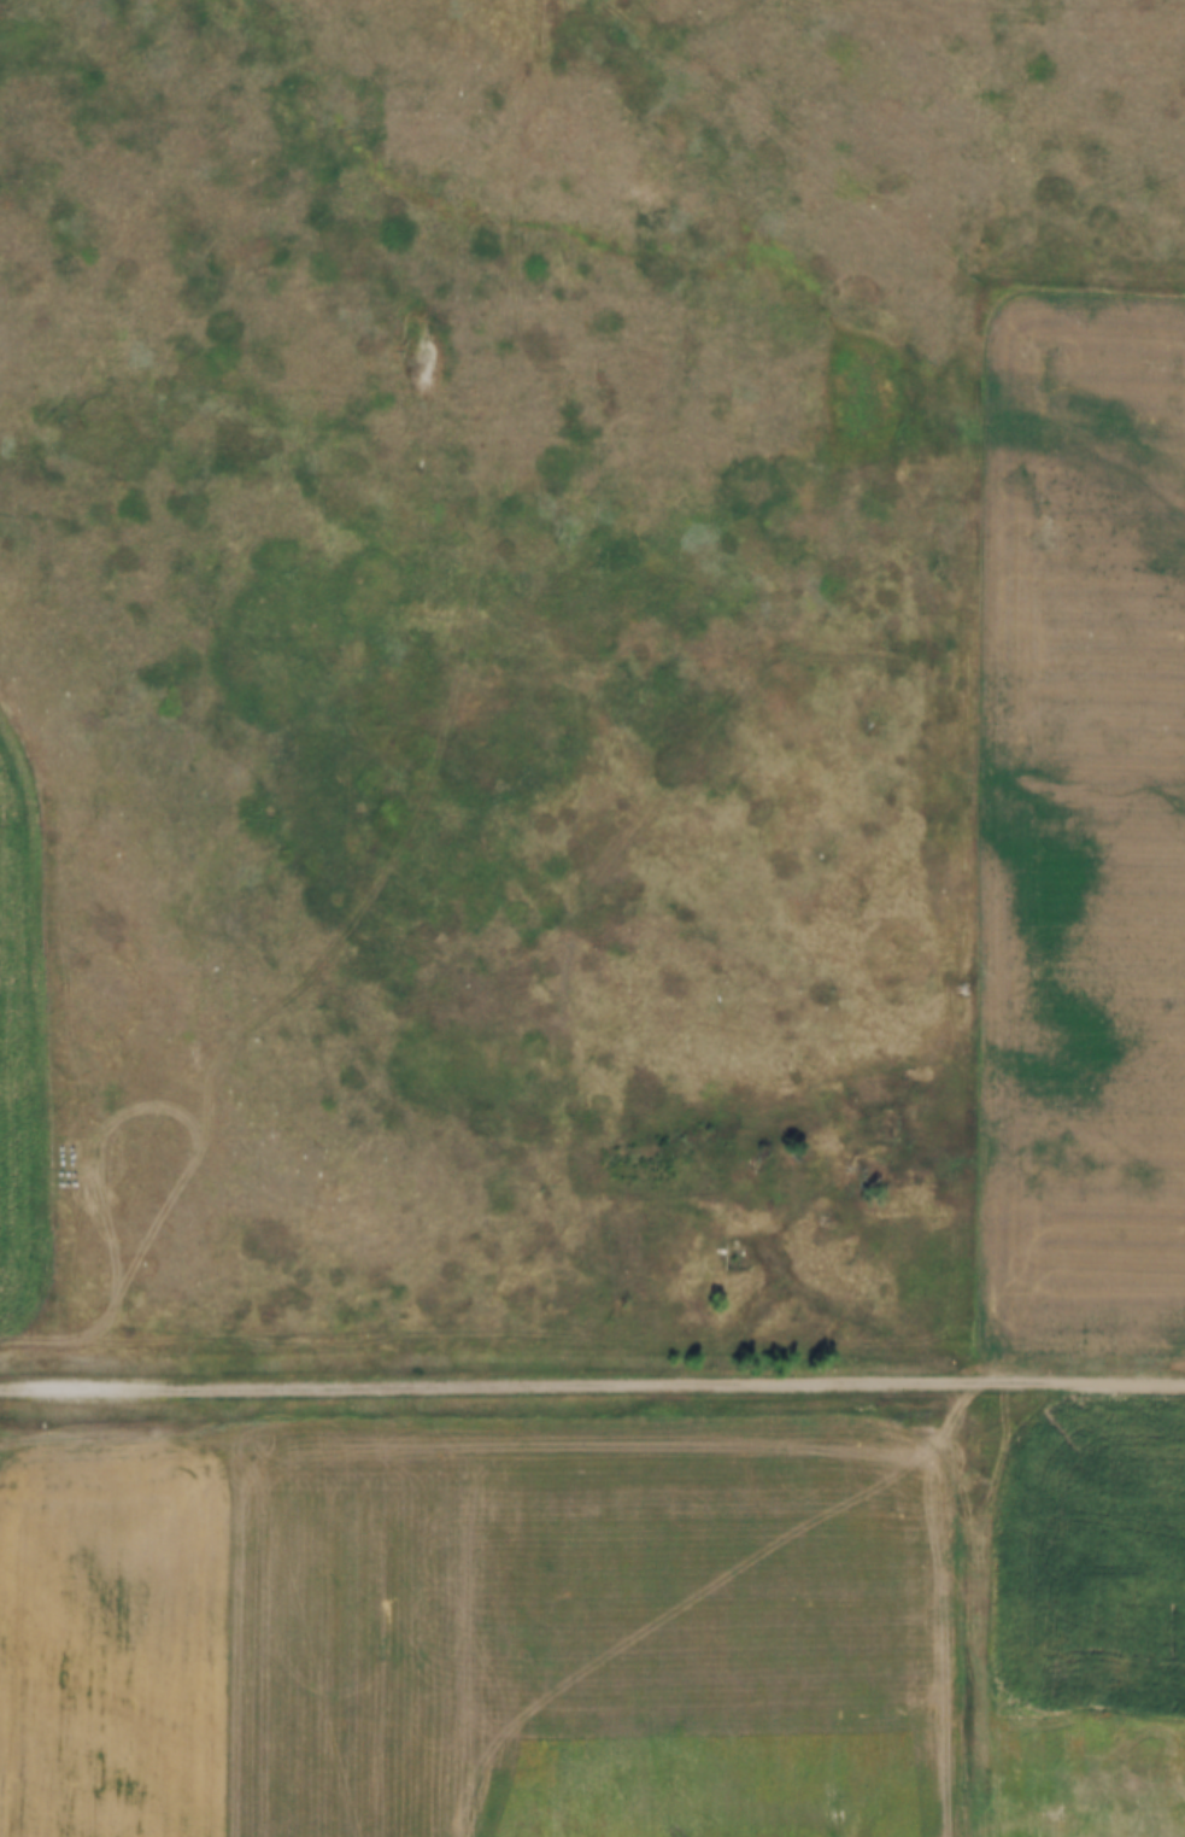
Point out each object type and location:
road: (592, 1387)

